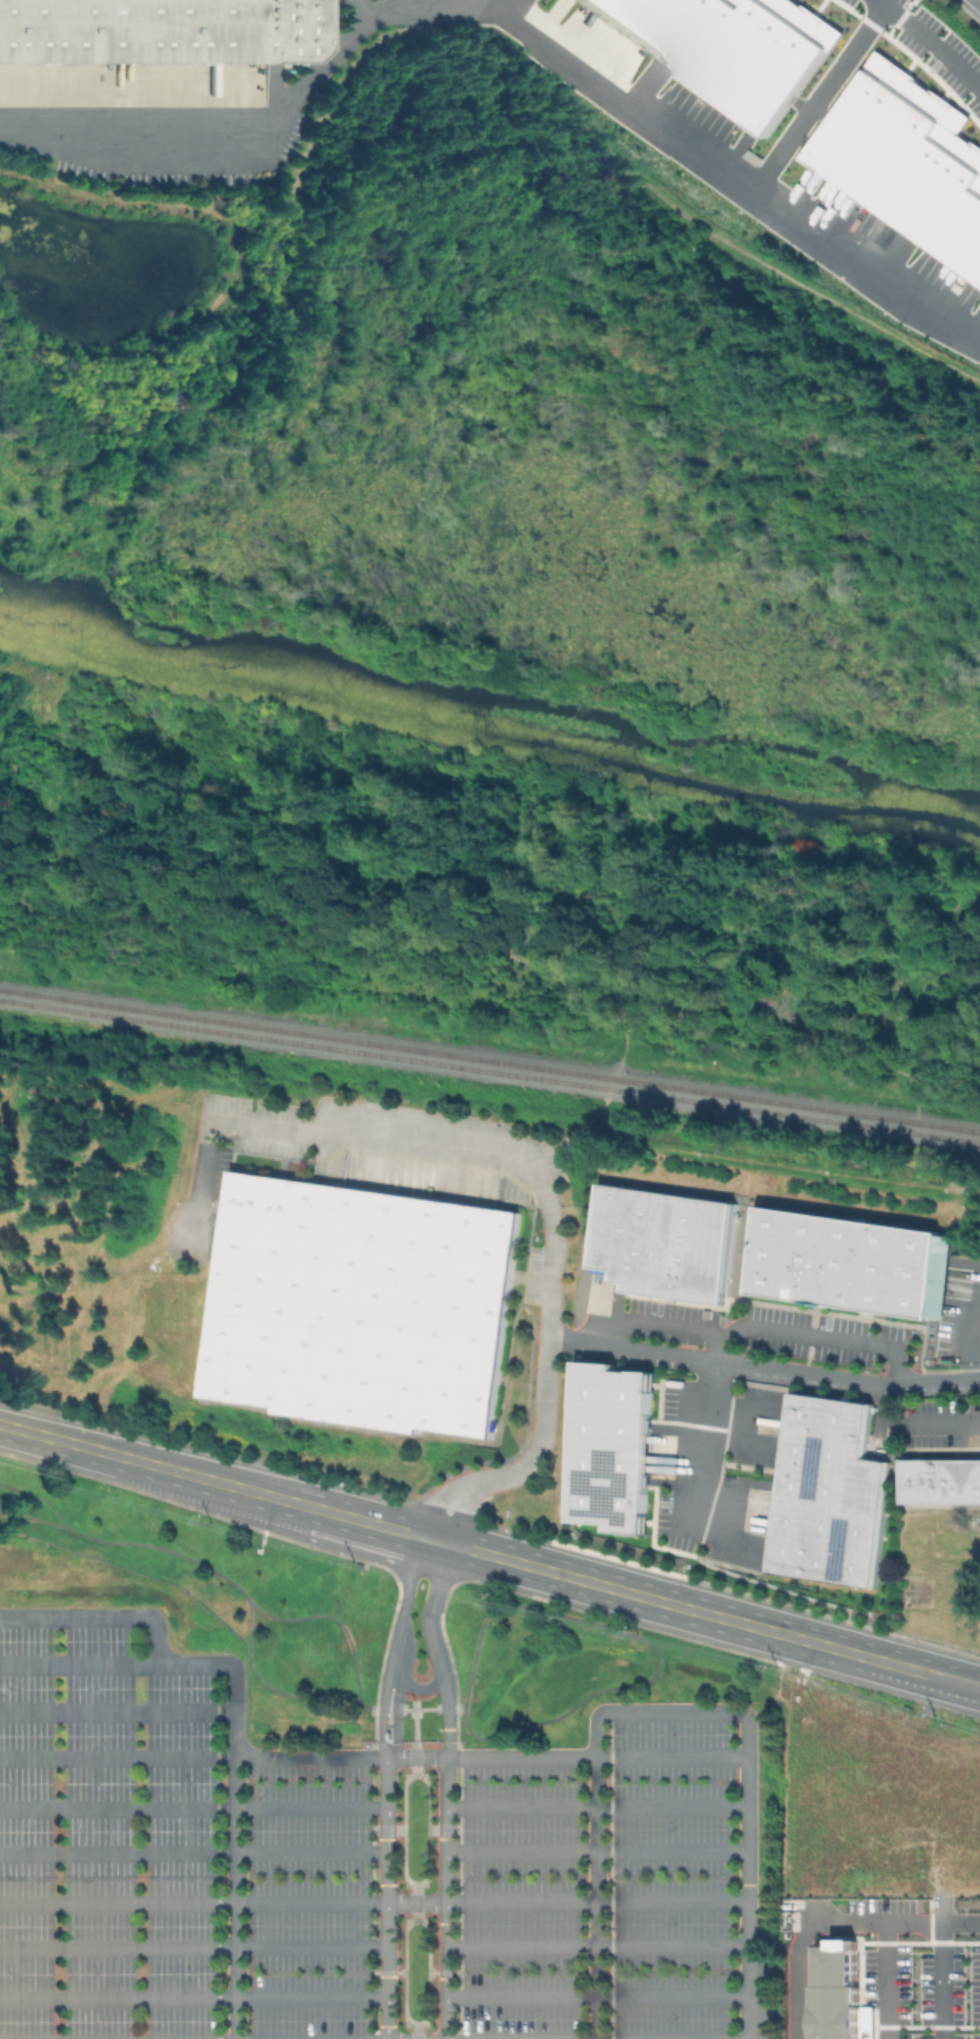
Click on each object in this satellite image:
road: (501, 2)
road: (516, 2)
road: (977, 2)
road: (439, 4)
road: (357, 15)
road: (931, 40)
building: (729, 47)
building: (150, 49)
road: (819, 97)
road: (573, 123)
road: (268, 136)
building: (908, 159)
road: (736, 176)
road: (119, 199)
road: (146, 344)
railway: (490, 1058)
railway: (489, 1069)
road: (547, 1200)
building: (664, 1241)
building: (854, 1265)
building: (362, 1306)
road: (757, 1328)
road: (973, 1331)
road: (719, 1348)
road: (764, 1370)
road: (916, 1424)
road: (703, 1444)
building: (608, 1447)
road: (156, 1466)
building: (943, 1482)
building: (828, 1494)
road: (38, 1497)
road: (438, 1497)
road: (446, 1505)
road: (463, 1513)
road: (33, 1517)
road: (366, 1523)
road: (486, 1556)
road: (698, 1561)
road: (714, 1586)
road: (618, 1590)
road: (246, 1603)
road: (402, 1605)
road: (331, 1617)
road: (150, 1619)
road: (635, 1621)
road: (801, 1639)
road: (645, 1642)
road: (78, 1663)
road: (948, 1666)
road: (418, 1686)
road: (946, 1688)
flagpole: (413, 1702)
road: (418, 1708)
road: (116, 1712)
road: (380, 1715)
road: (394, 1716)
road: (413, 1741)
road: (116, 1756)
road: (340, 1756)
road: (456, 1756)
road: (601, 1781)
road: (301, 1782)
road: (446, 1789)
road: (595, 1806)
road: (193, 1807)
road: (745, 1815)
road: (595, 1824)
road: (442, 1828)
road: (386, 1829)
road: (596, 1850)
road: (193, 1851)
road: (216, 1851)
parking lot: (357, 1867)
road: (234, 1869)
road: (426, 1870)
road: (609, 1874)
road: (302, 1876)
road: (602, 1876)
road: (370, 1889)
road: (388, 1898)
road: (490, 1901)
road: (116, 1902)
road: (414, 1902)
road: (458, 1902)
road: (959, 1921)
road: (874, 1922)
road: (426, 1931)
road: (596, 1944)
road: (193, 1945)
road: (587, 1971)
road: (318, 1972)
road: (887, 1980)
building: (838, 1991)
road: (596, 1995)
road: (194, 1998)
road: (414, 2030)
road: (747, 2038)

